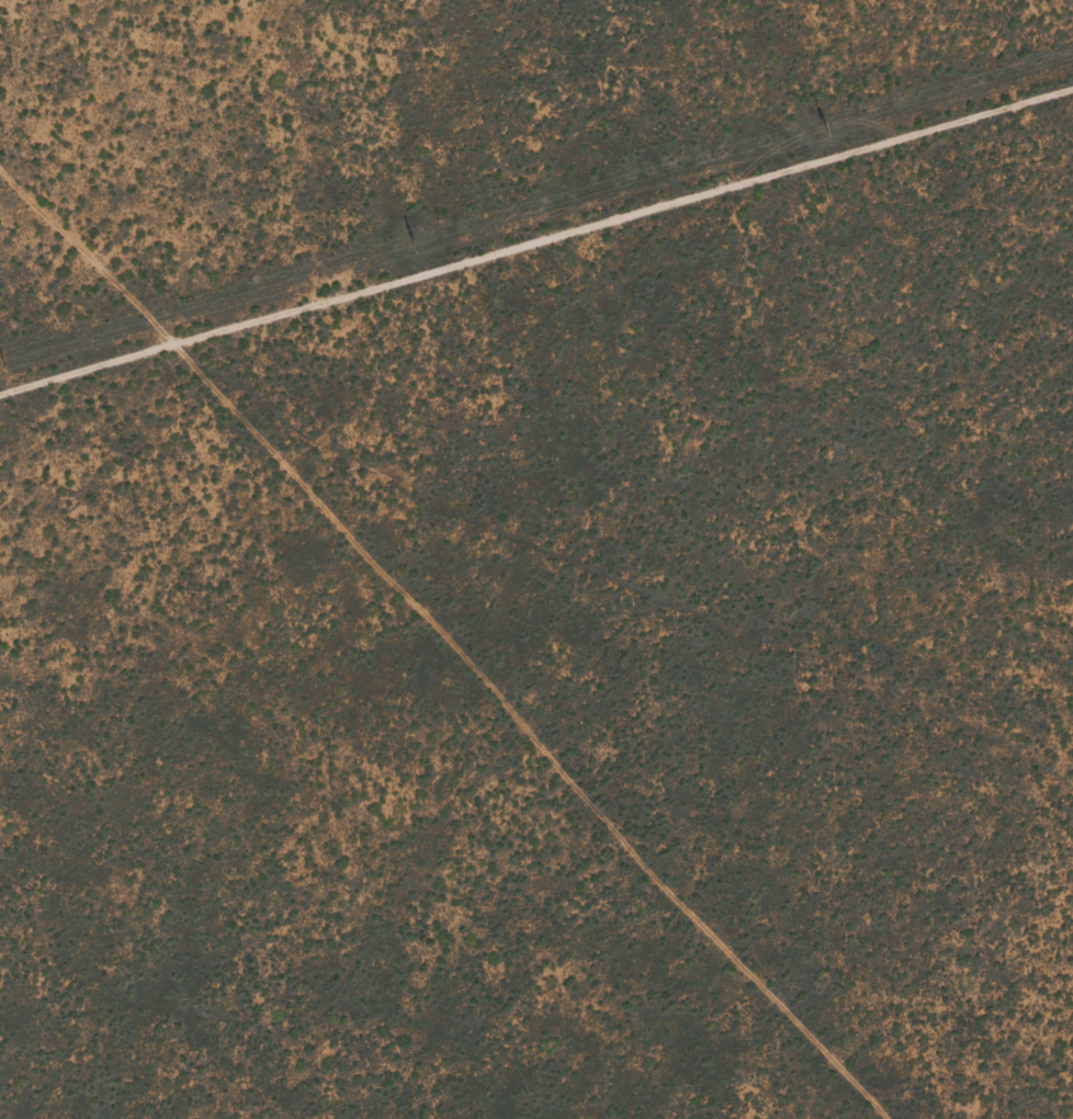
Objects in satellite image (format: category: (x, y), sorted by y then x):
road: (928, 66)
power tower: (823, 127)
power tower: (410, 245)
power tower: (0, 362)

